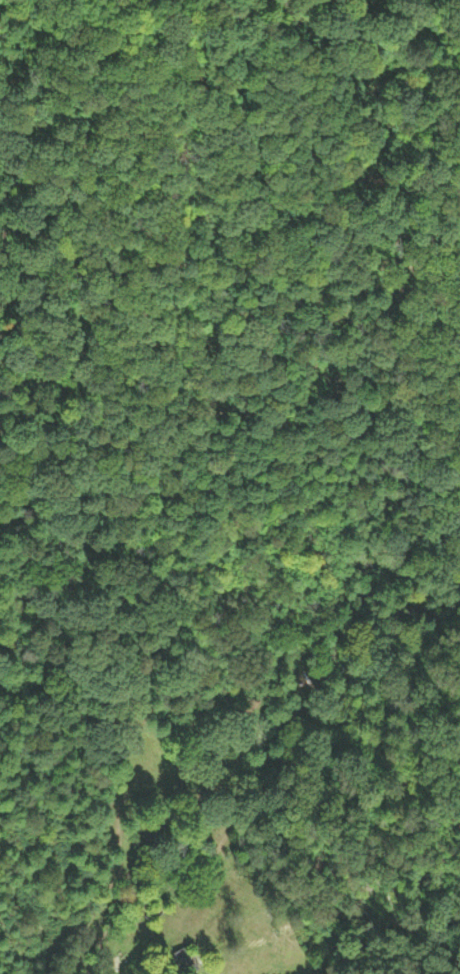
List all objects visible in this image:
building: (155, 913)
road: (107, 936)

